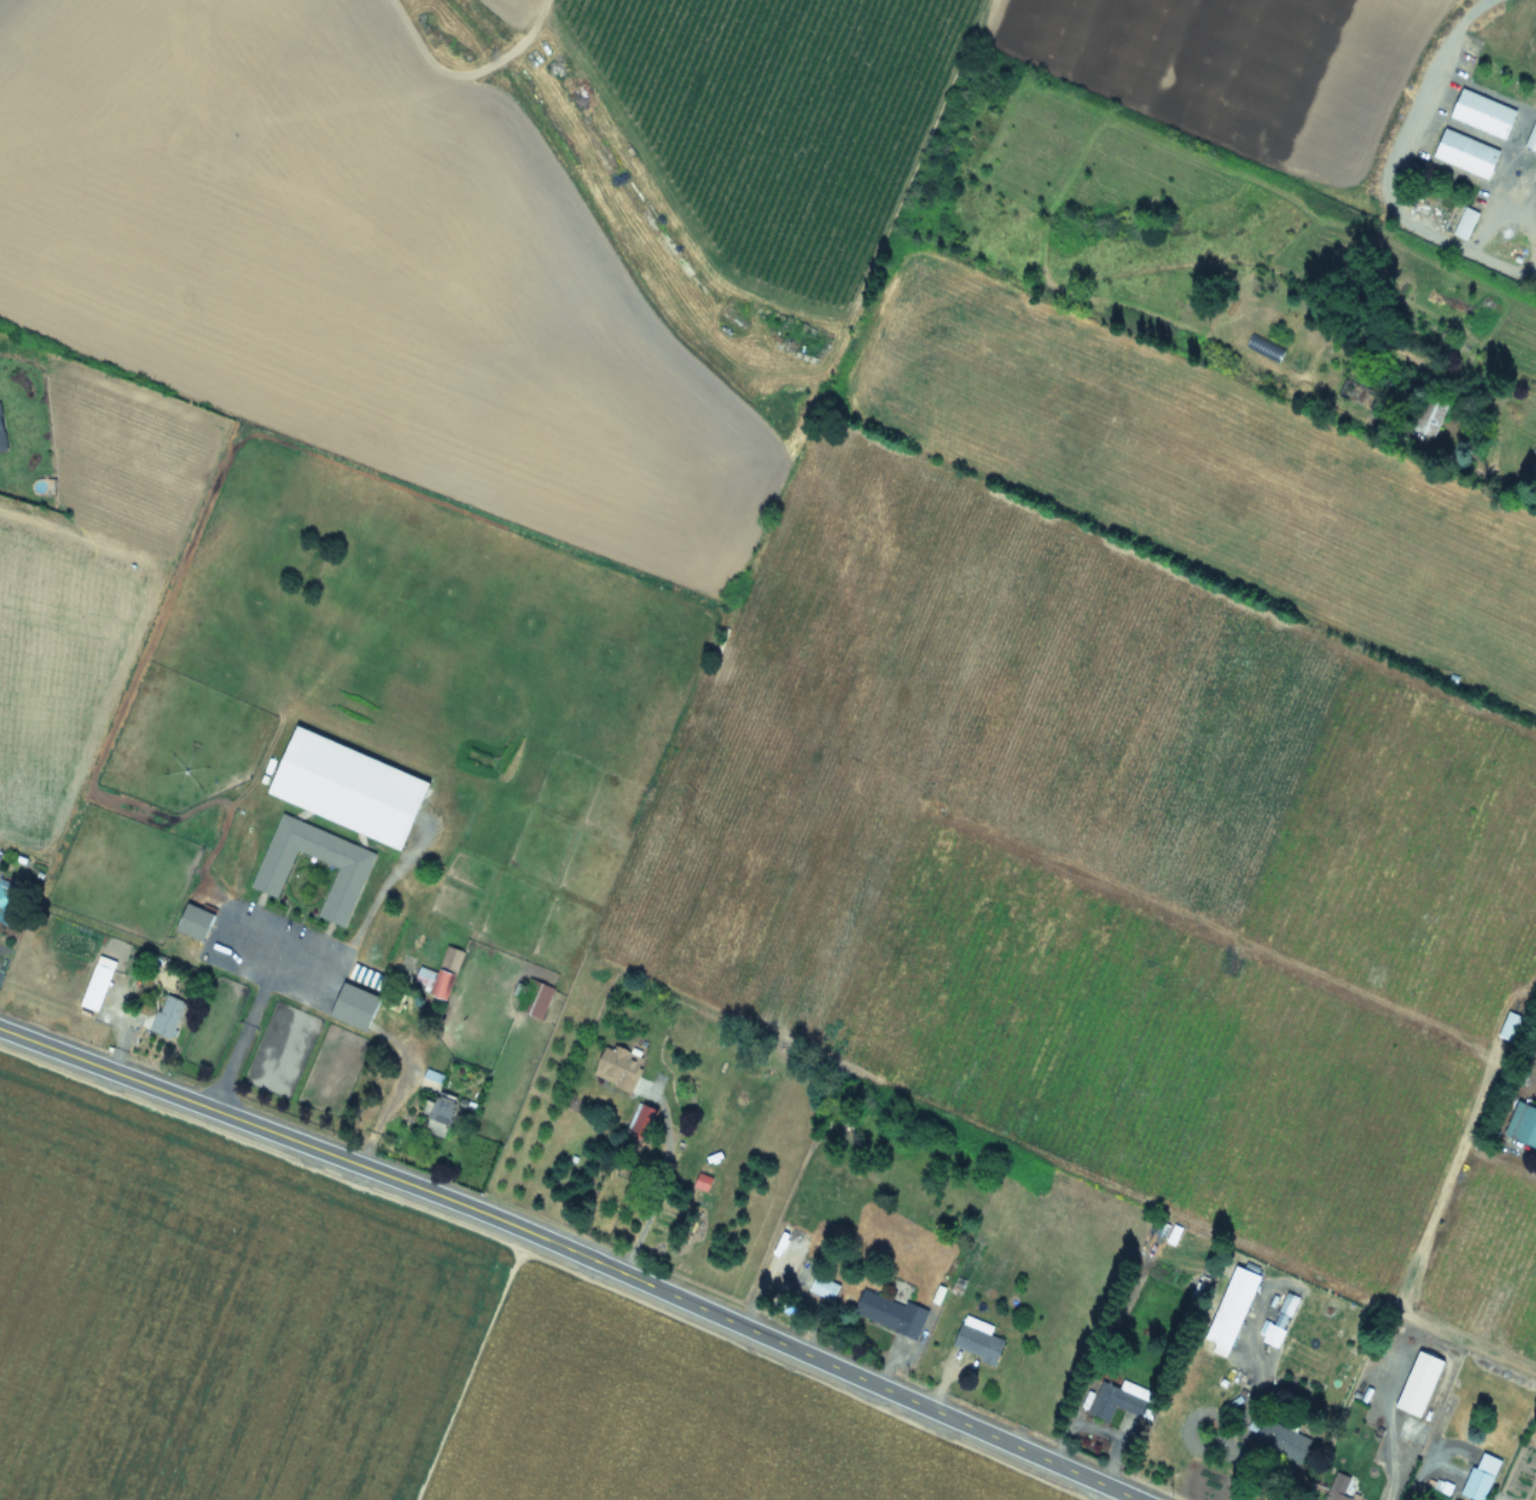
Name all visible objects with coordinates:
building: (1480, 113)
building: (1530, 136)
building: (1463, 153)
road: (1385, 171)
building: (1462, 223)
building: (1501, 247)
building: (1264, 348)
building: (1352, 394)
building: (1429, 418)
building: (1, 444)
building: (1534, 452)
road: (1504, 492)
crop: (844, 540)
building: (1314, 785)
building: (350, 787)
building: (349, 878)
building: (6, 899)
building: (196, 923)
road: (359, 928)
building: (440, 974)
building: (99, 984)
building: (533, 998)
building: (355, 1007)
road: (253, 1009)
building: (168, 1016)
building: (619, 1068)
road: (395, 1097)
building: (439, 1106)
building: (642, 1124)
building: (1523, 1125)
road: (661, 1177)
road: (571, 1252)
building: (824, 1289)
building: (1234, 1309)
building: (890, 1314)
building: (1277, 1330)
building: (979, 1344)
crop: (352, 1353)
building: (1422, 1385)
building: (1122, 1402)
building: (1282, 1443)
building: (1482, 1479)
building: (1340, 1487)

